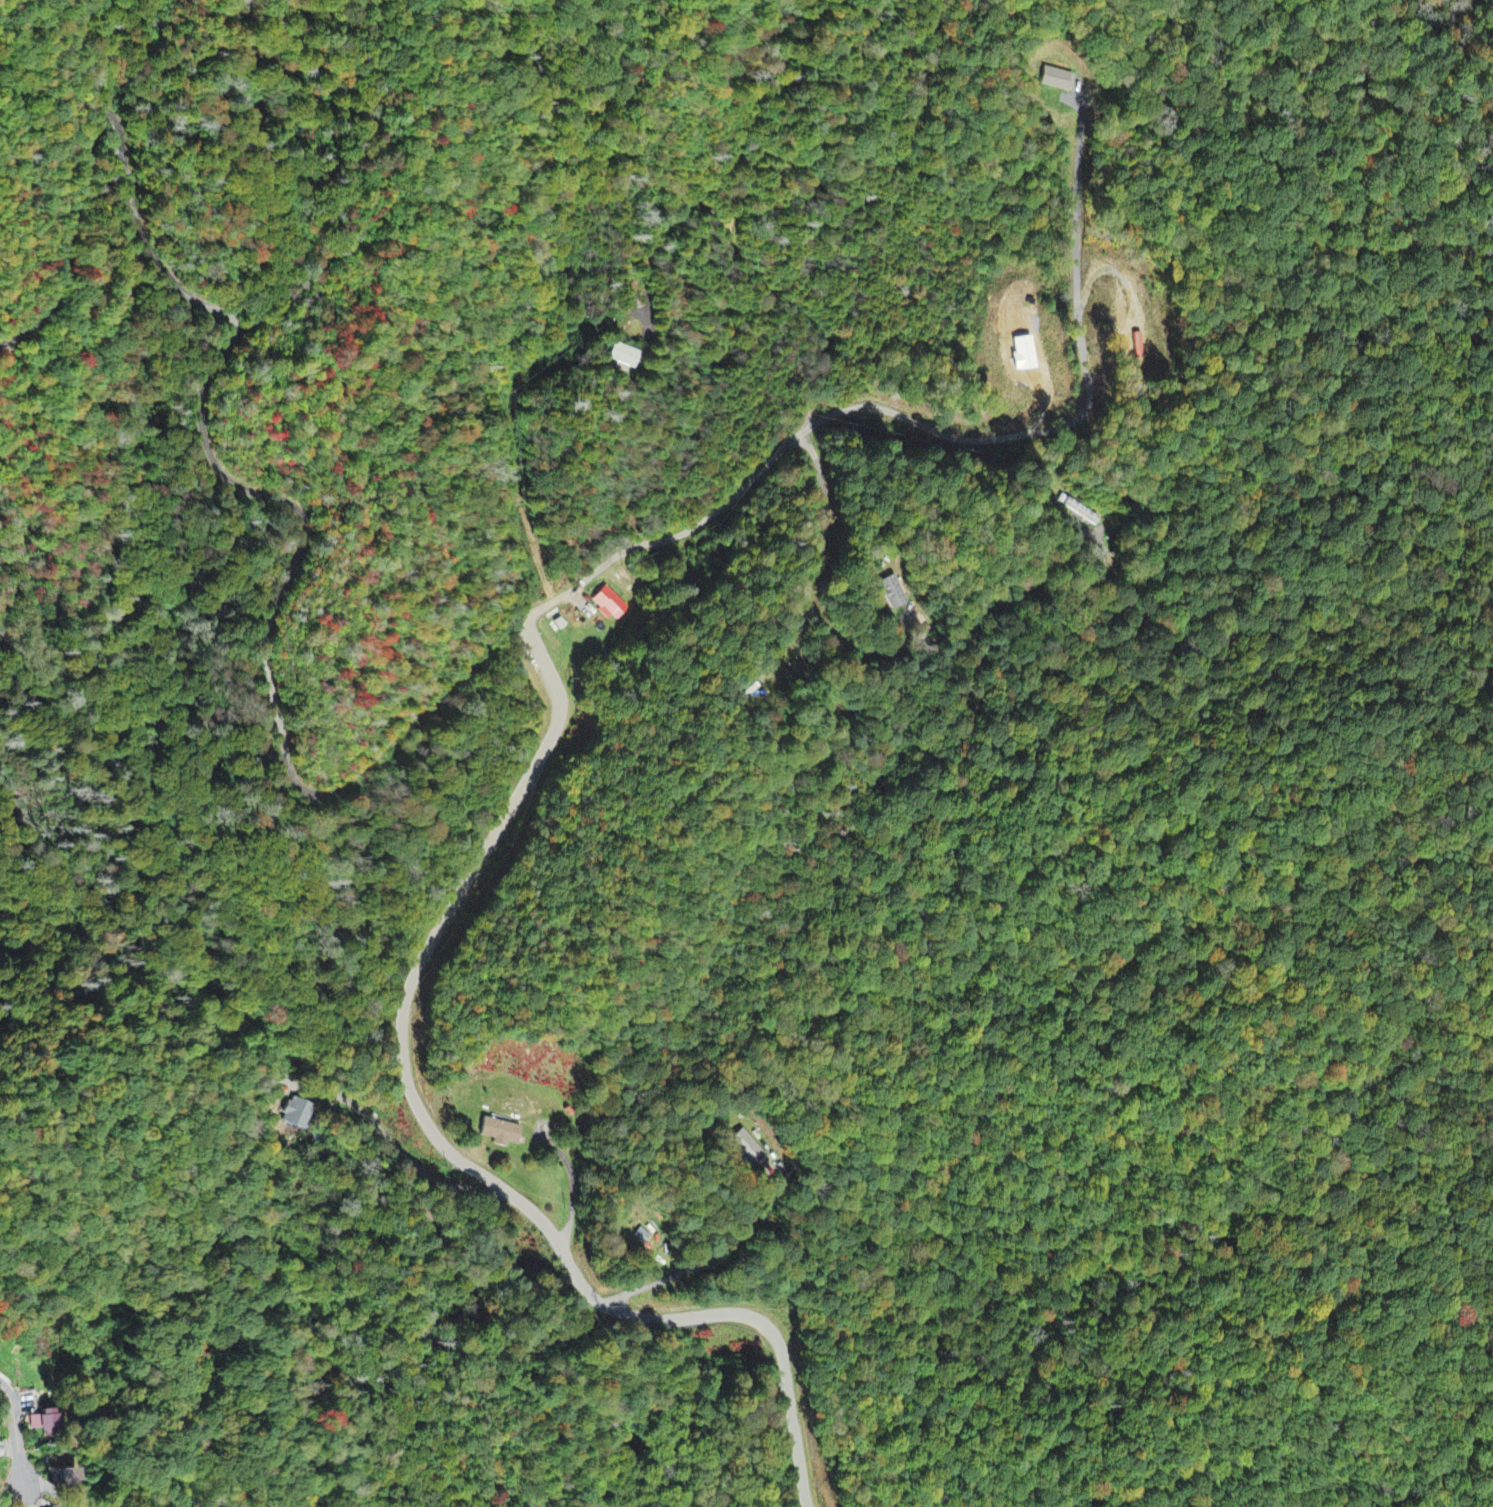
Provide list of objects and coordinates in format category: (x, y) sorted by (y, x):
building: (1061, 81)
building: (626, 357)
road: (771, 465)
building: (608, 600)
road: (281, 717)
building: (506, 1133)
building: (643, 1237)
road: (693, 1318)
road: (18, 1433)

